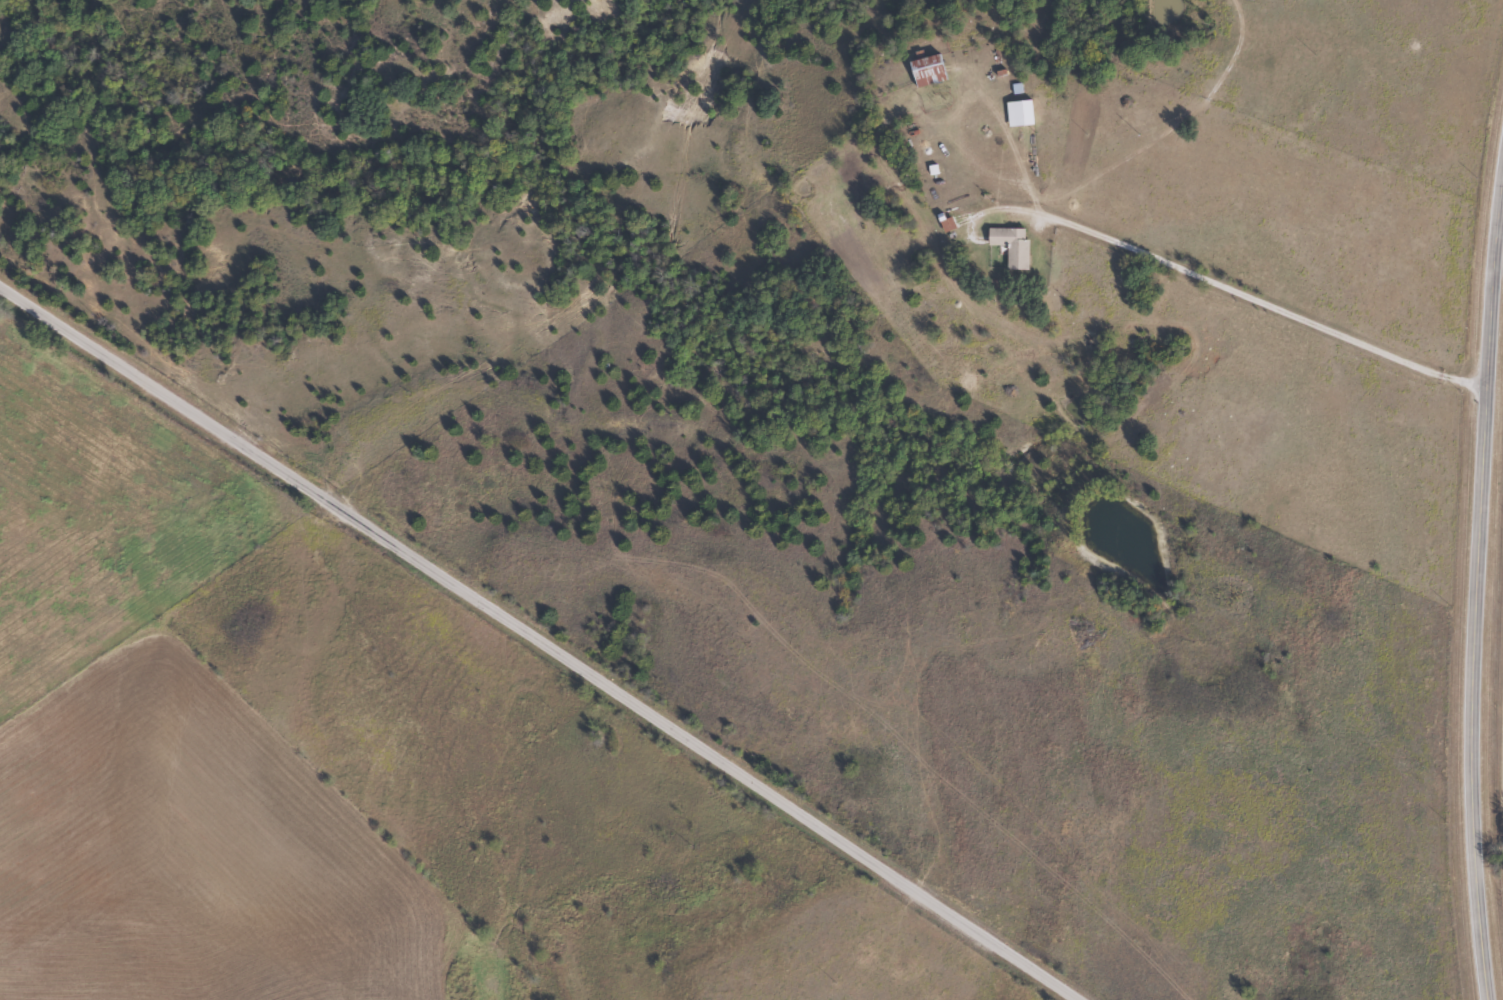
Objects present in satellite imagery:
building: (924, 71)
building: (1009, 246)
road: (1498, 266)
road: (1250, 303)
road: (1478, 594)
road: (539, 644)

